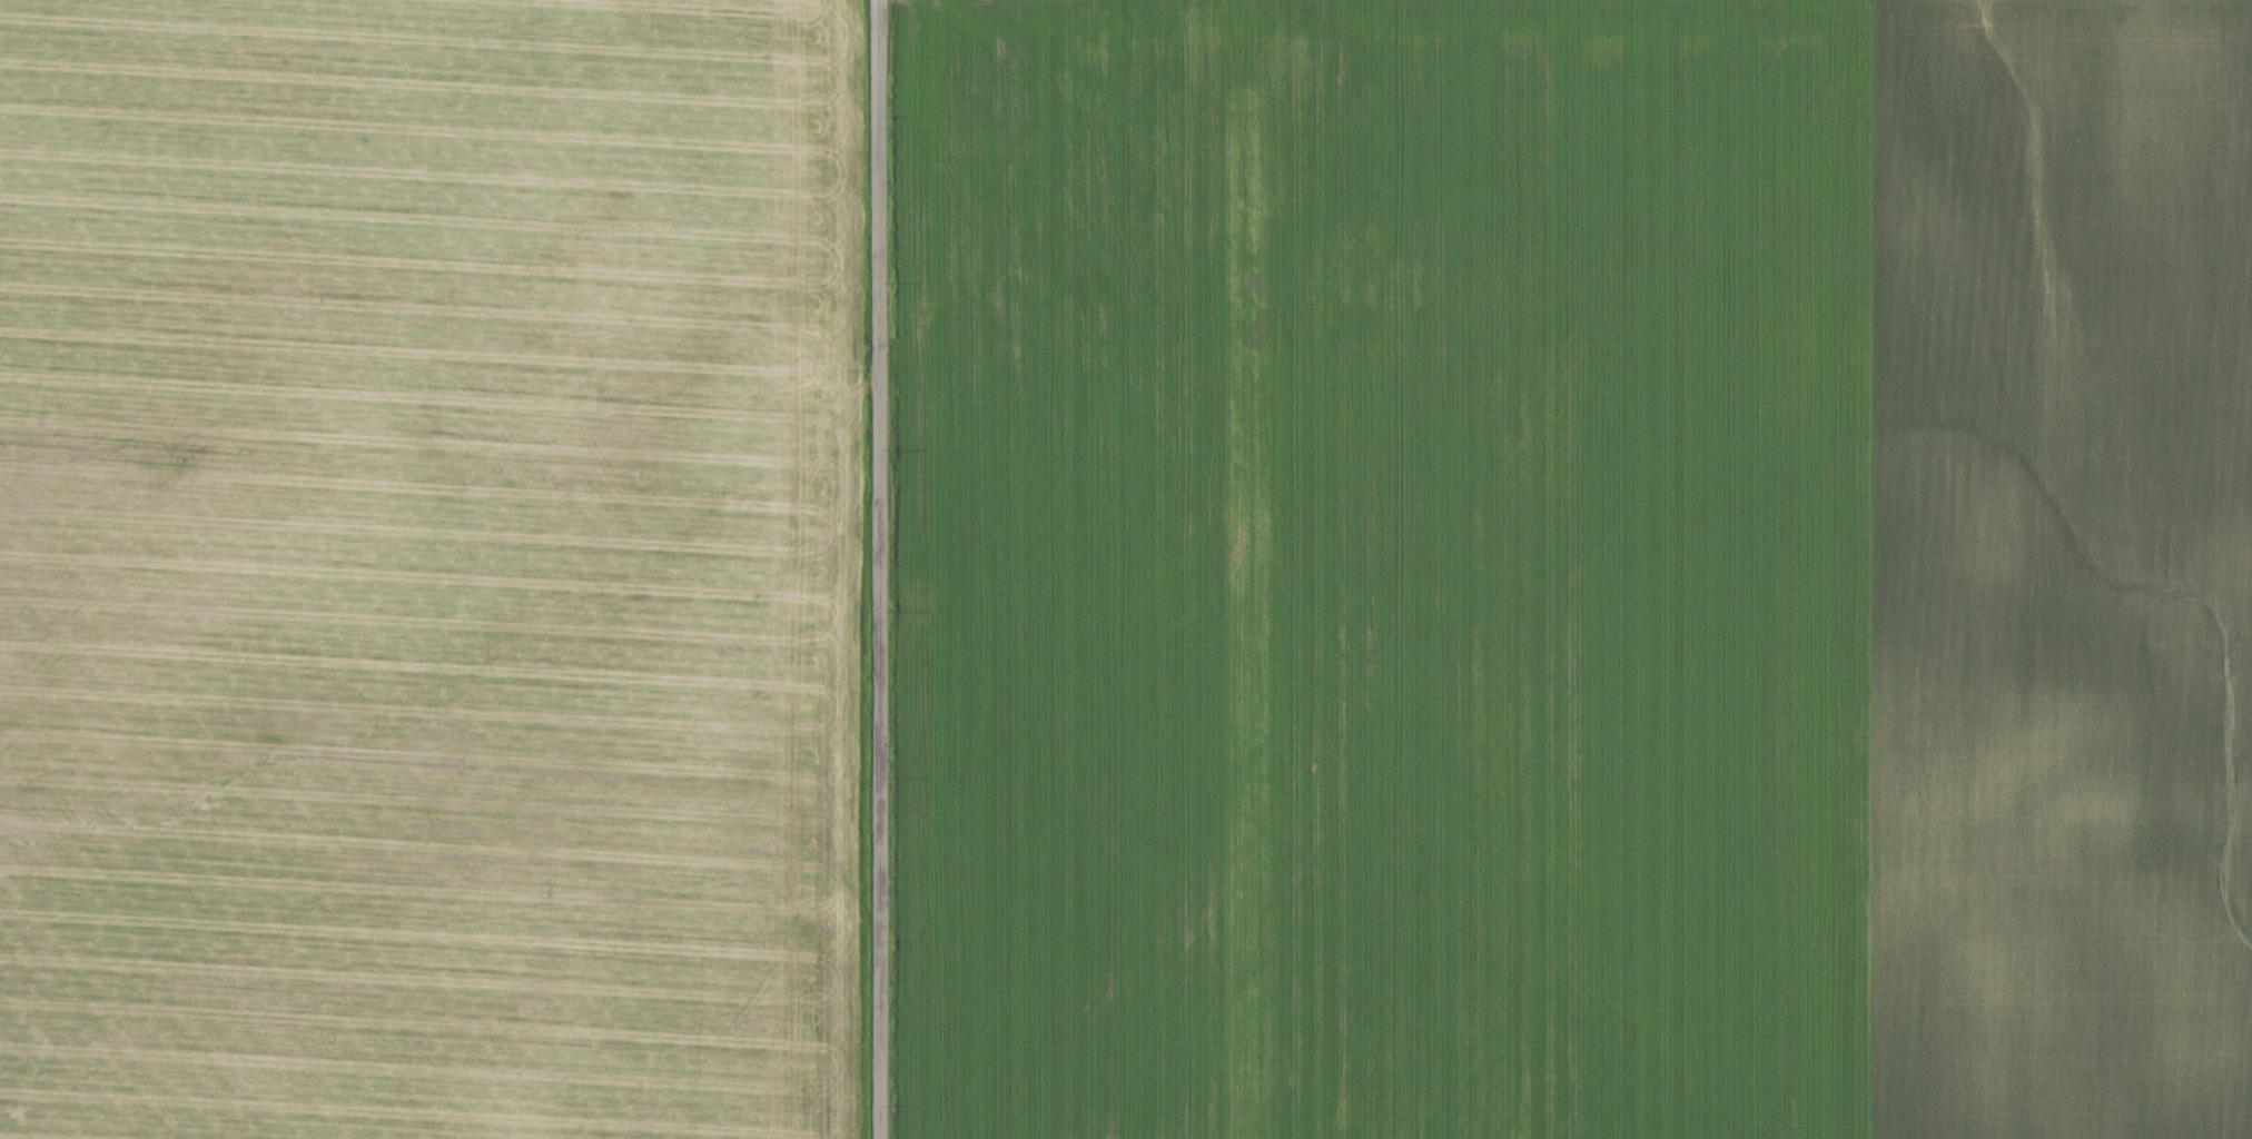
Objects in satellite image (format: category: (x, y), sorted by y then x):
road: (886, 569)

